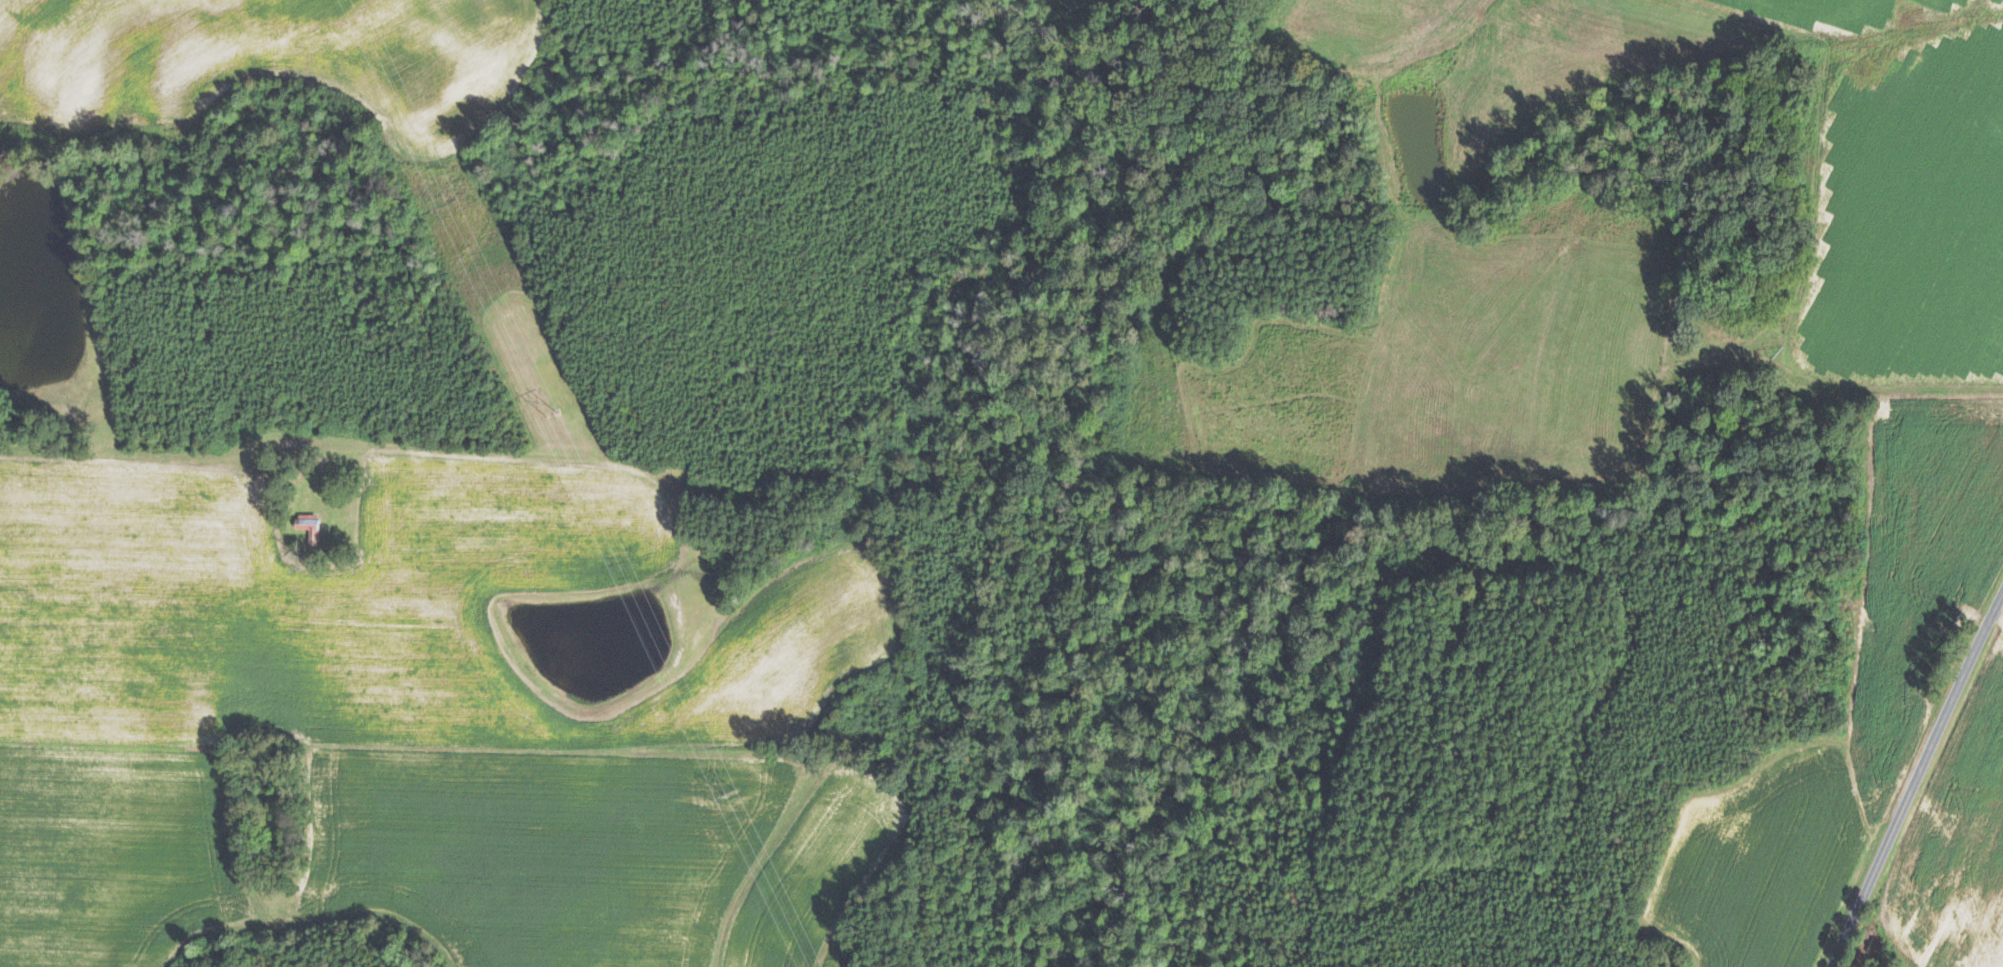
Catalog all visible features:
power tower: (548, 415)
road: (179, 459)
building: (311, 526)
road: (1916, 780)
power tower: (730, 795)

